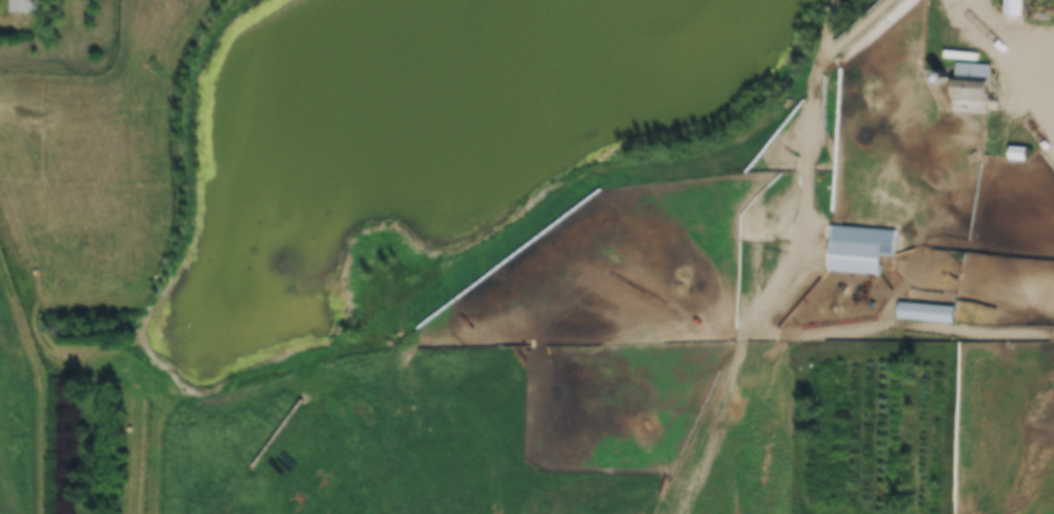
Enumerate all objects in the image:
building: (26, 7)
building: (1016, 8)
road: (1011, 32)
road: (860, 33)
building: (977, 70)
road: (999, 73)
building: (863, 250)
road: (803, 273)
building: (930, 313)
road: (745, 347)

